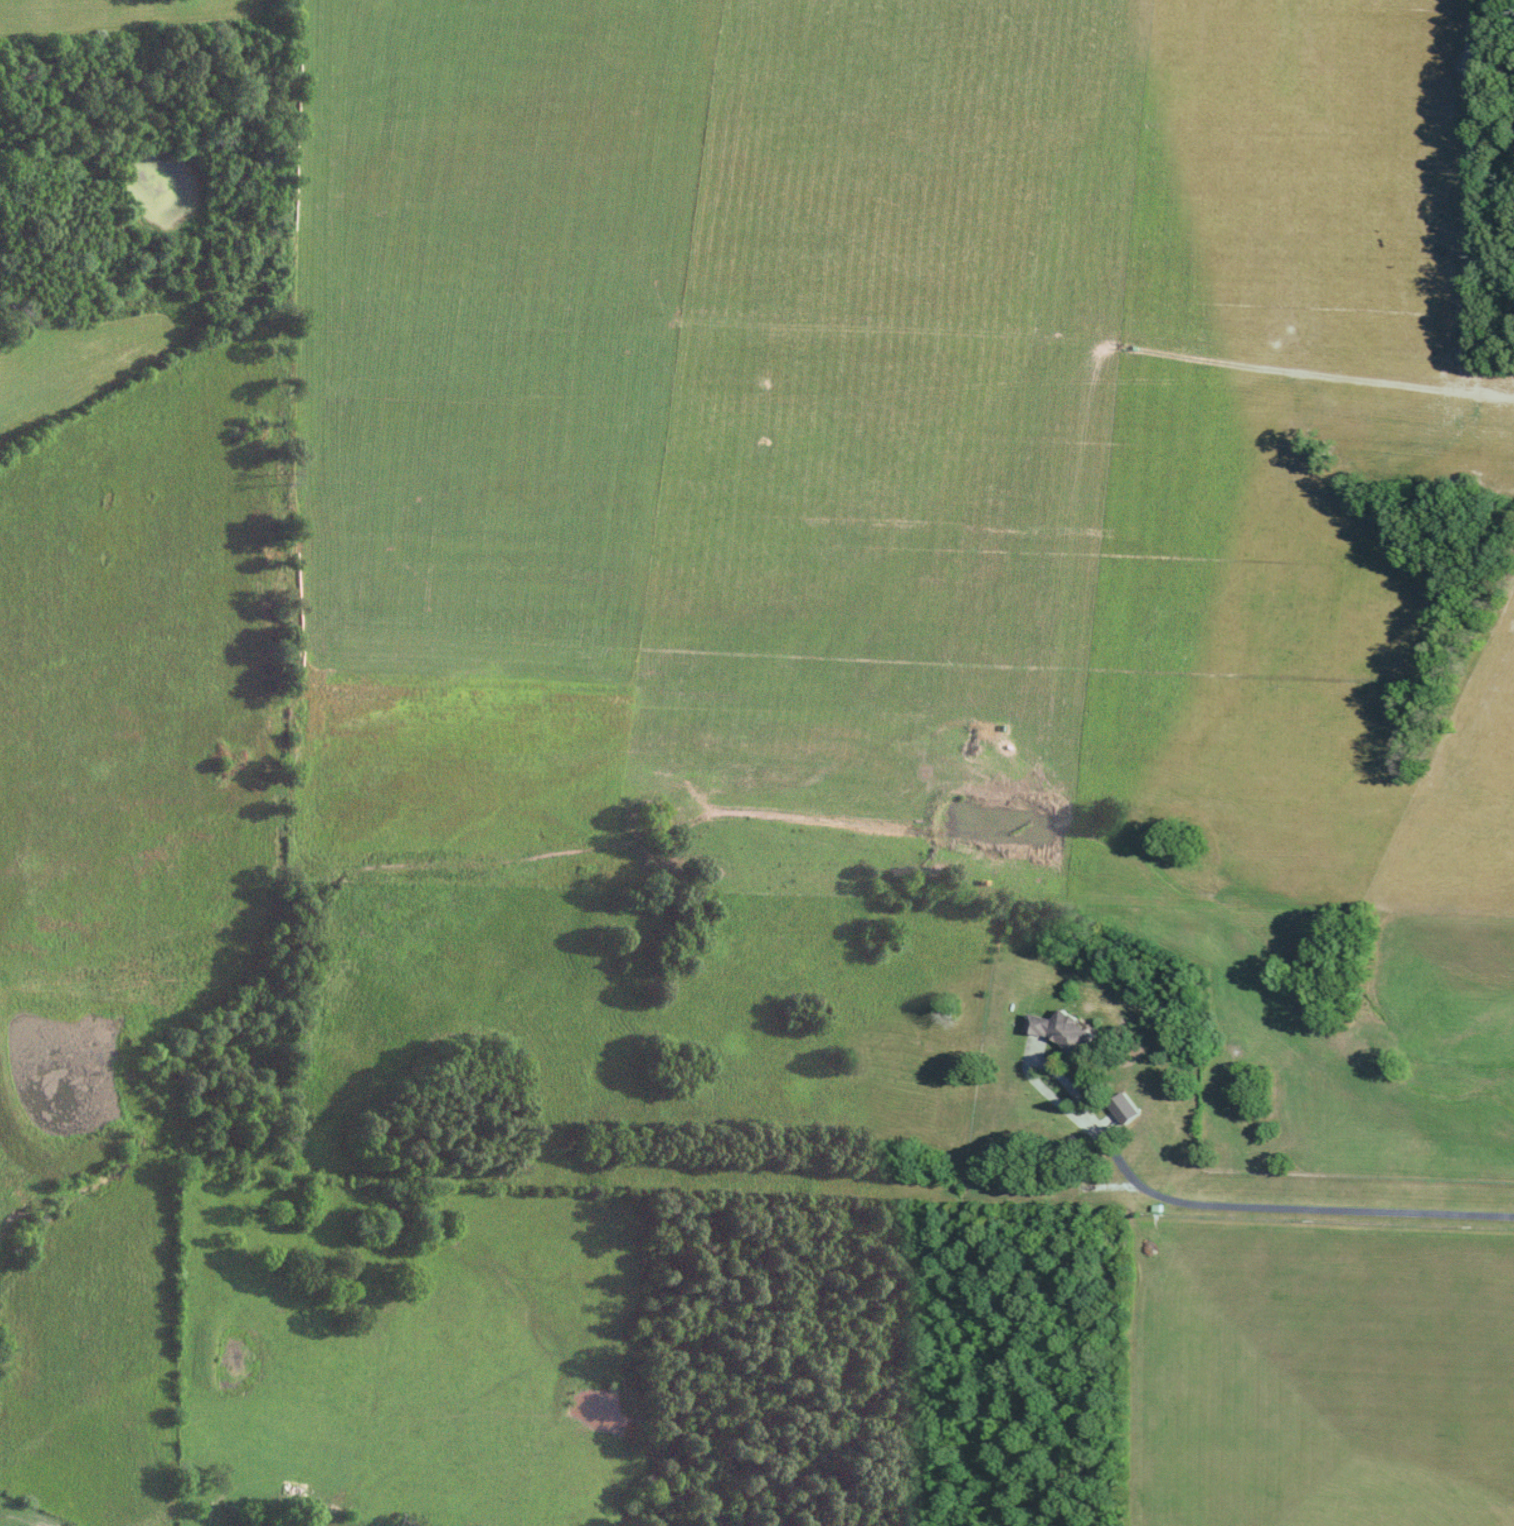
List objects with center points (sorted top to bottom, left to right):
building: (1068, 1032)
road: (1028, 1063)
road: (1290, 1209)

